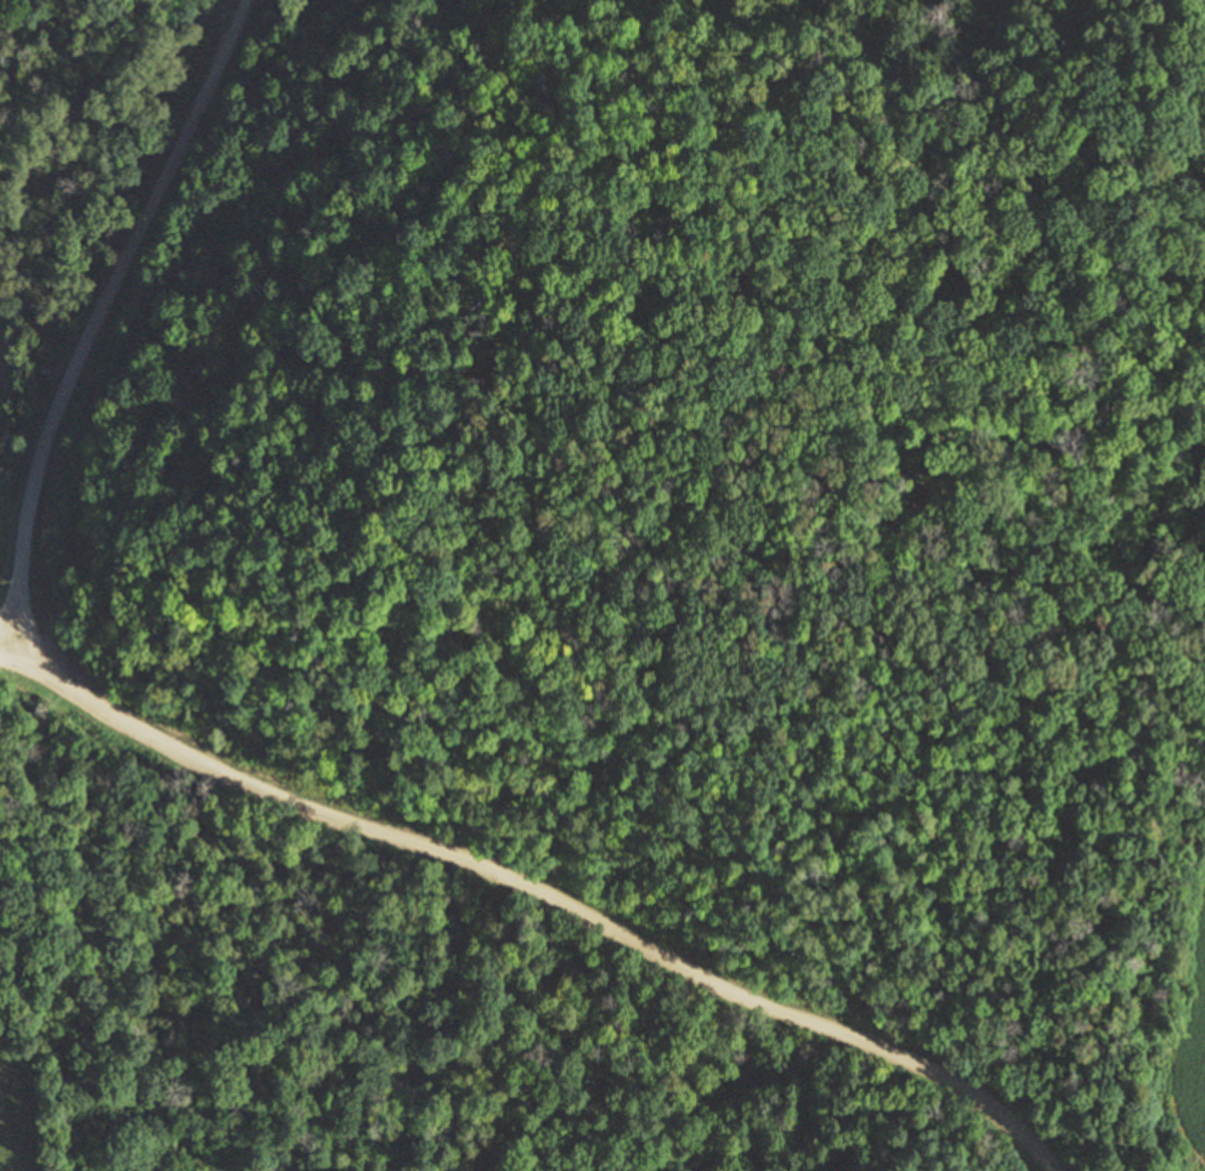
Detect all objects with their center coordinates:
road: (100, 321)
road: (40, 641)
road: (29, 667)
road: (564, 909)

